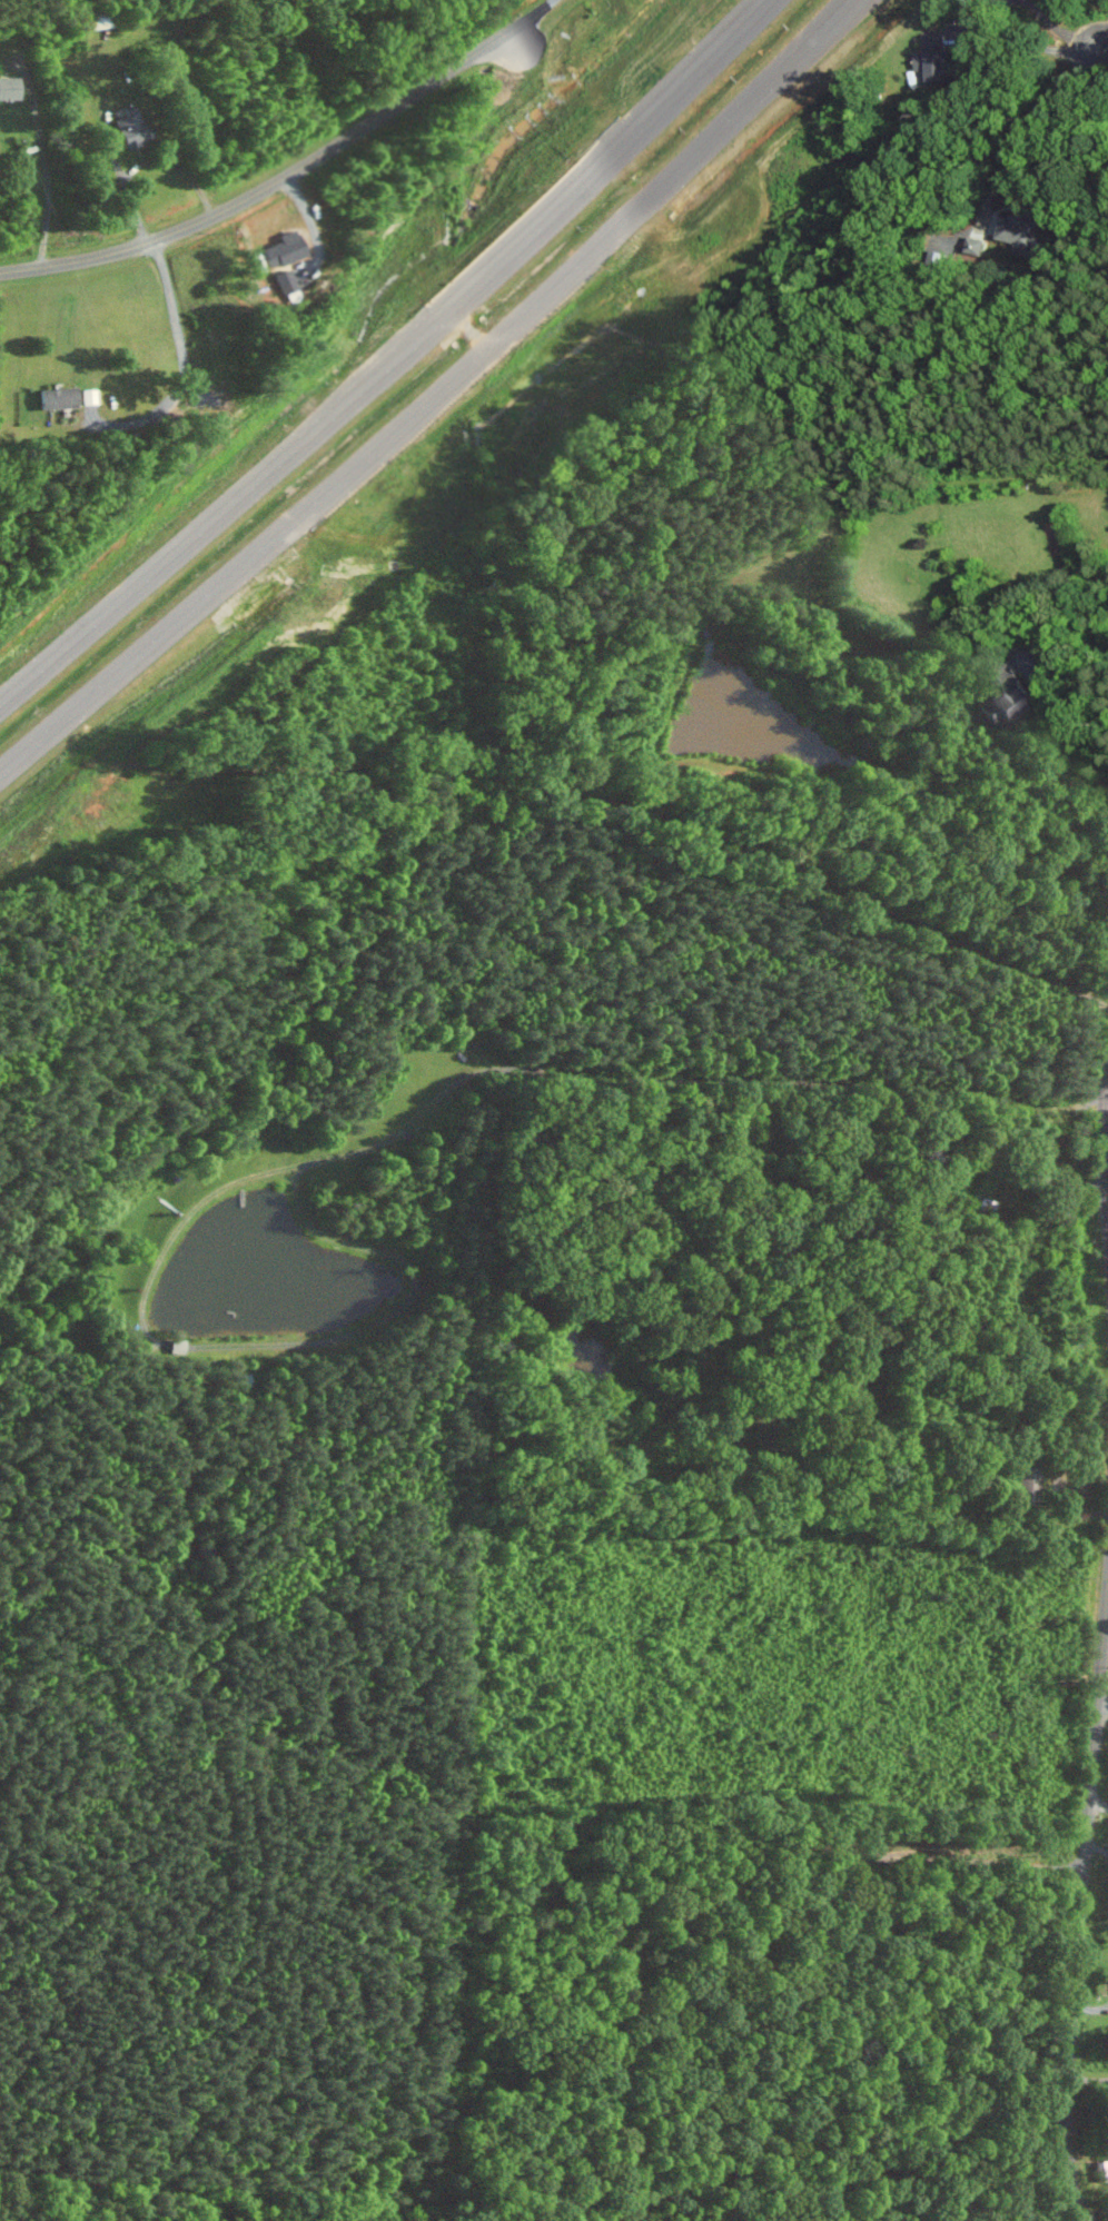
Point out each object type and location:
road: (526, 18)
road: (813, 34)
road: (1100, 41)
road: (1030, 43)
building: (931, 59)
building: (8, 88)
building: (131, 129)
road: (1035, 132)
road: (146, 161)
road: (607, 162)
road: (44, 175)
road: (269, 185)
road: (309, 225)
building: (1018, 234)
building: (280, 249)
building: (971, 250)
building: (285, 281)
road: (182, 363)
building: (89, 396)
road: (431, 396)
building: (57, 397)
road: (221, 518)
building: (1006, 695)
road: (1076, 740)
road: (1104, 1143)
building: (1026, 1487)
road: (975, 1858)
road: (1081, 1904)
road: (1088, 2080)

